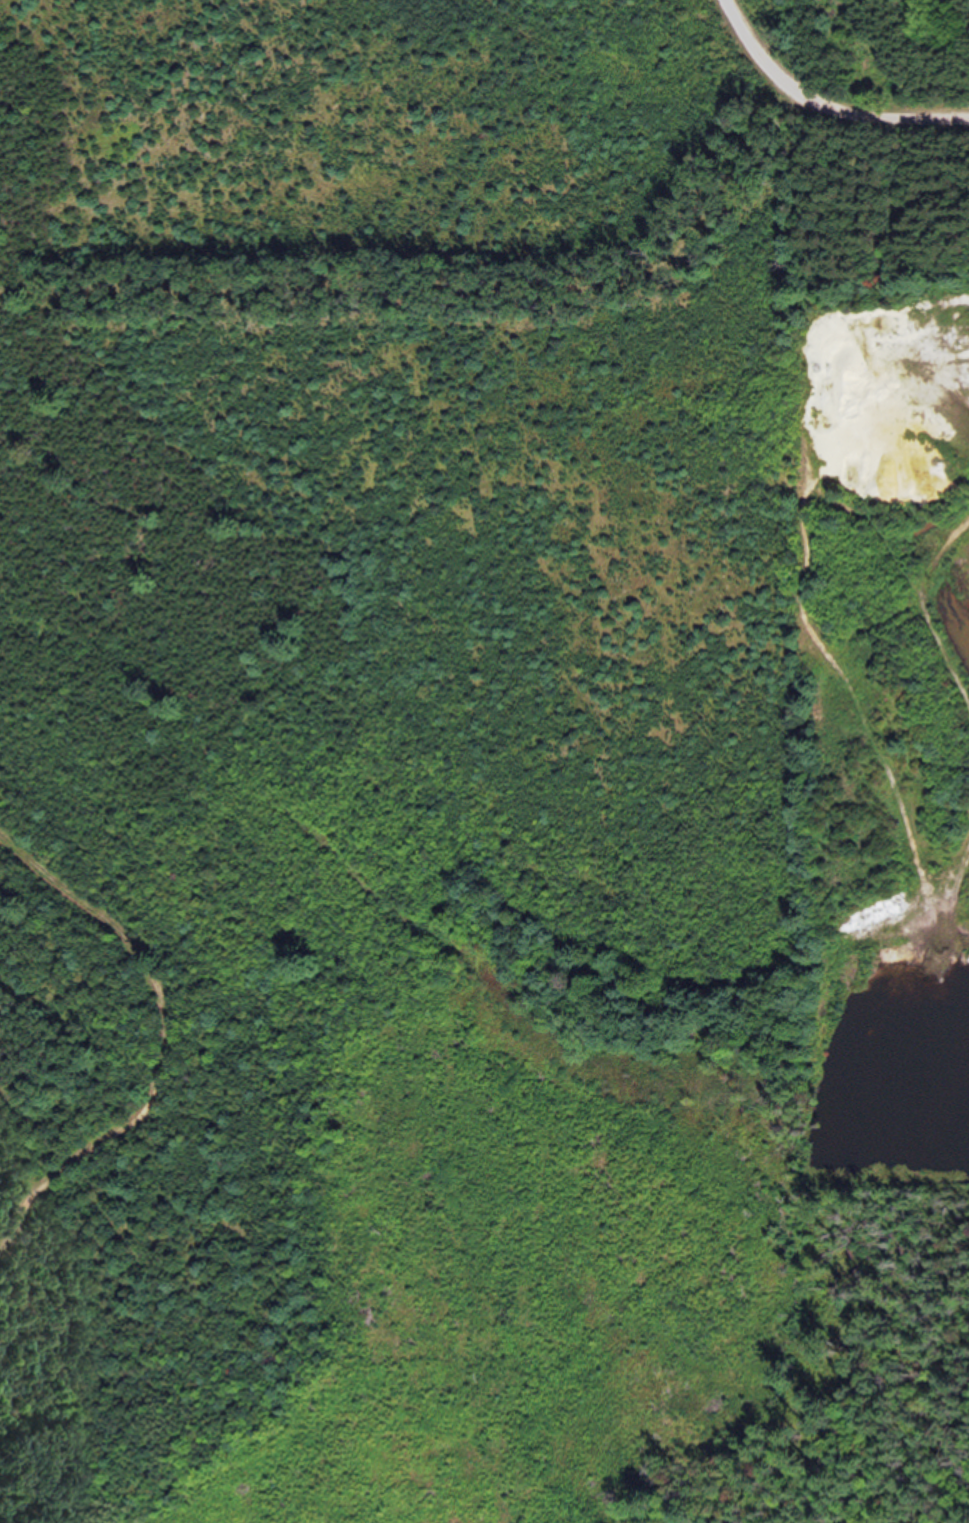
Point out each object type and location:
road: (824, 102)

